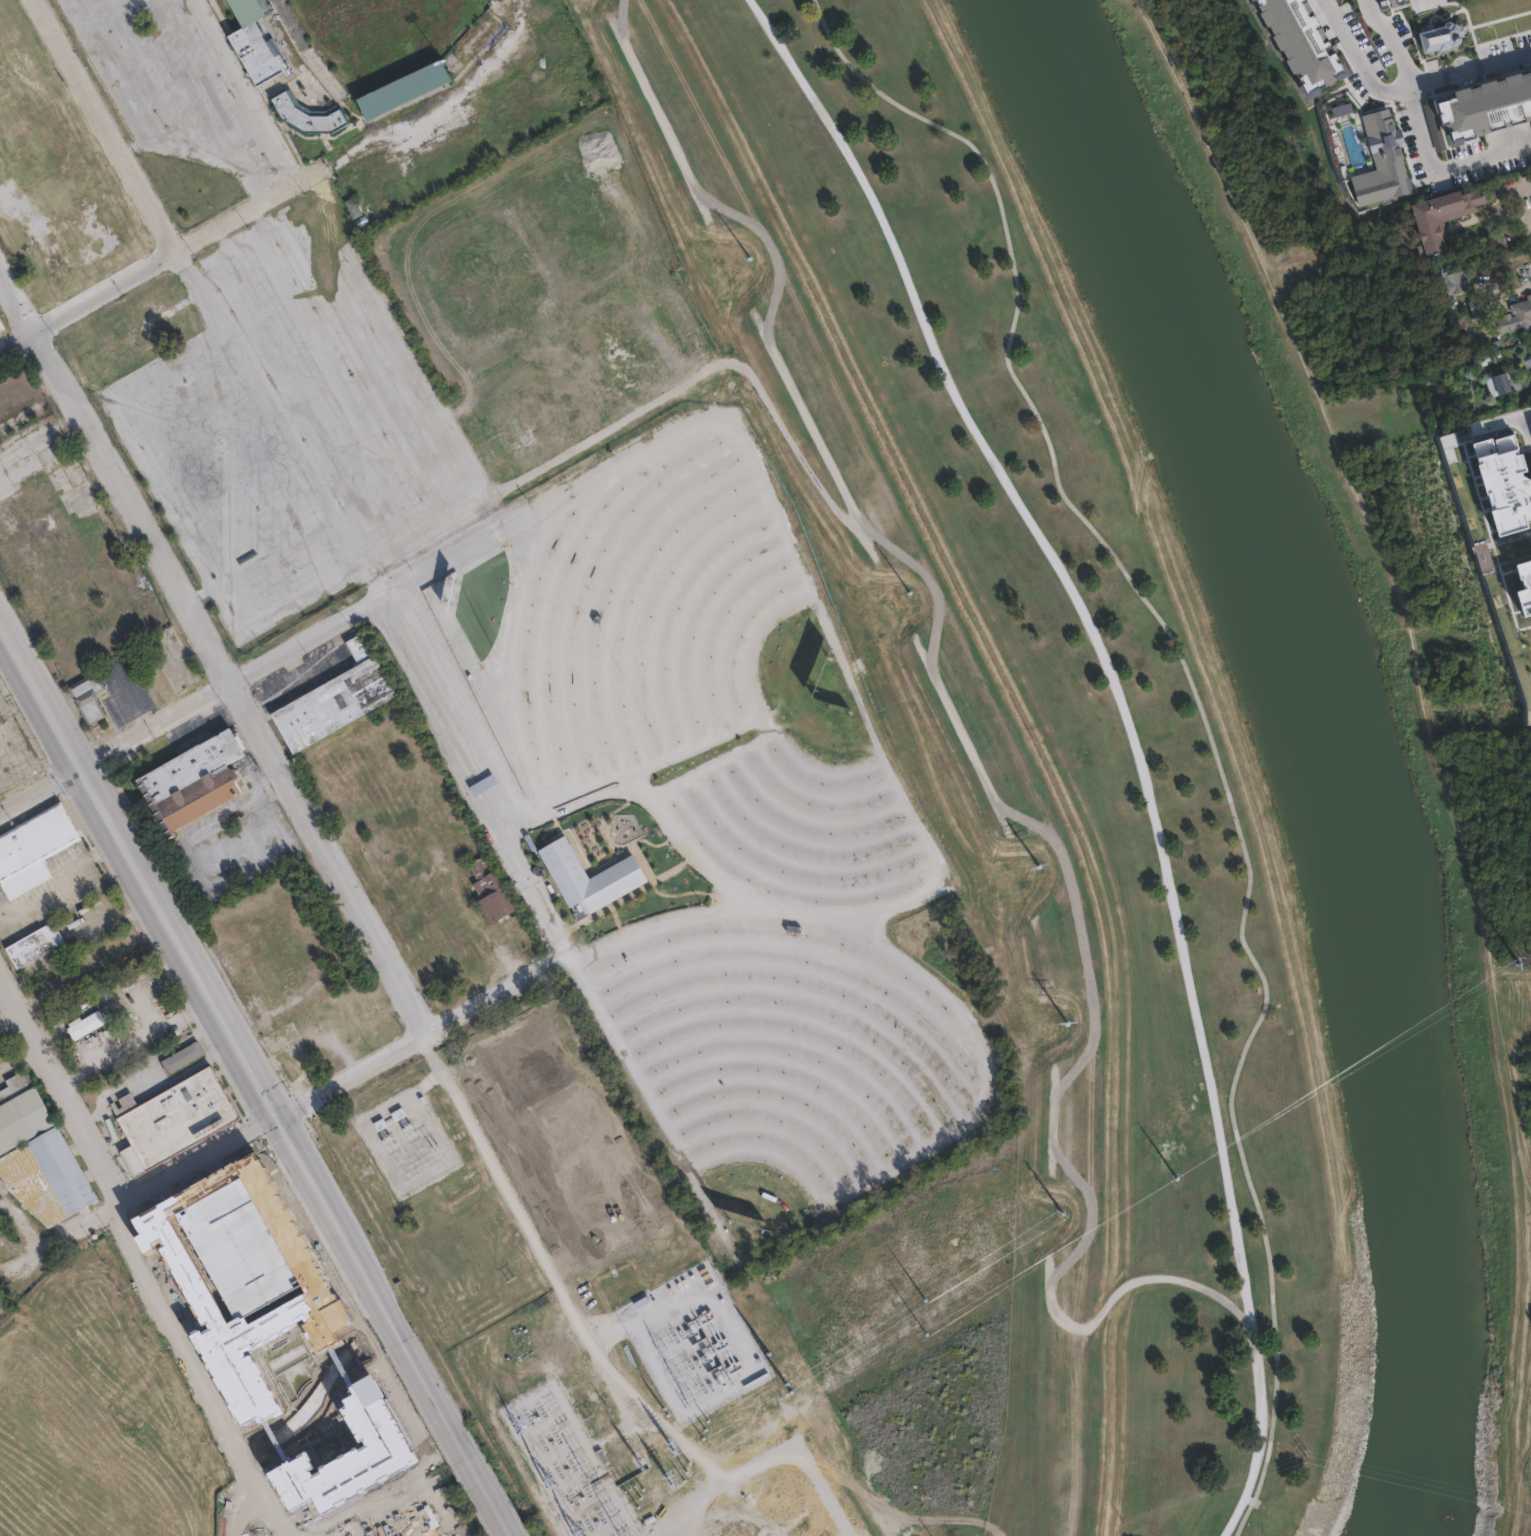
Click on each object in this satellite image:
building: (1380, 25)
building: (0, 32)
building: (1442, 38)
road: (1389, 42)
stadium: (359, 54)
building: (358, 57)
building: (1394, 61)
road: (862, 70)
parking lot: (166, 86)
park: (415, 86)
road: (1405, 86)
building: (6, 102)
road: (107, 123)
road: (1428, 169)
building: (356, 206)
road: (1507, 206)
road: (241, 210)
building: (1444, 217)
building: (1407, 233)
road: (1527, 277)
building: (1452, 282)
road: (88, 298)
building: (1482, 308)
building: (1518, 317)
building: (2, 325)
power tower: (971, 342)
building: (1486, 358)
road: (260, 381)
building: (1499, 384)
road: (1503, 420)
parking lot: (295, 432)
road: (91, 441)
road: (402, 485)
building: (1495, 491)
road: (179, 529)
road: (261, 562)
building: (1517, 599)
road: (226, 685)
building: (91, 697)
building: (337, 699)
road: (132, 700)
park: (1162, 723)
road: (1132, 733)
road: (1432, 742)
river: (1324, 746)
power tower: (1081, 759)
road: (462, 781)
building: (194, 782)
road: (38, 789)
road: (1229, 794)
road: (310, 819)
road: (271, 820)
building: (34, 849)
road: (188, 849)
road: (159, 856)
road: (138, 877)
building: (587, 878)
road: (62, 885)
building: (492, 893)
road: (112, 920)
building: (37, 945)
power tower: (1519, 962)
road: (493, 996)
building: (66, 1015)
building: (184, 1057)
road: (146, 1068)
road: (180, 1073)
road: (351, 1079)
road: (62, 1092)
power tower: (1197, 1097)
building: (23, 1115)
building: (388, 1118)
traffic signals: (276, 1119)
building: (177, 1121)
power substation: (407, 1140)
building: (51, 1182)
road: (138, 1194)
road: (1525, 1207)
road: (338, 1230)
road: (528, 1230)
building: (708, 1325)
power substation: (693, 1342)
road: (213, 1374)
road: (455, 1438)
power substation: (556, 1451)
road: (348, 1467)
park: (1207, 1525)

